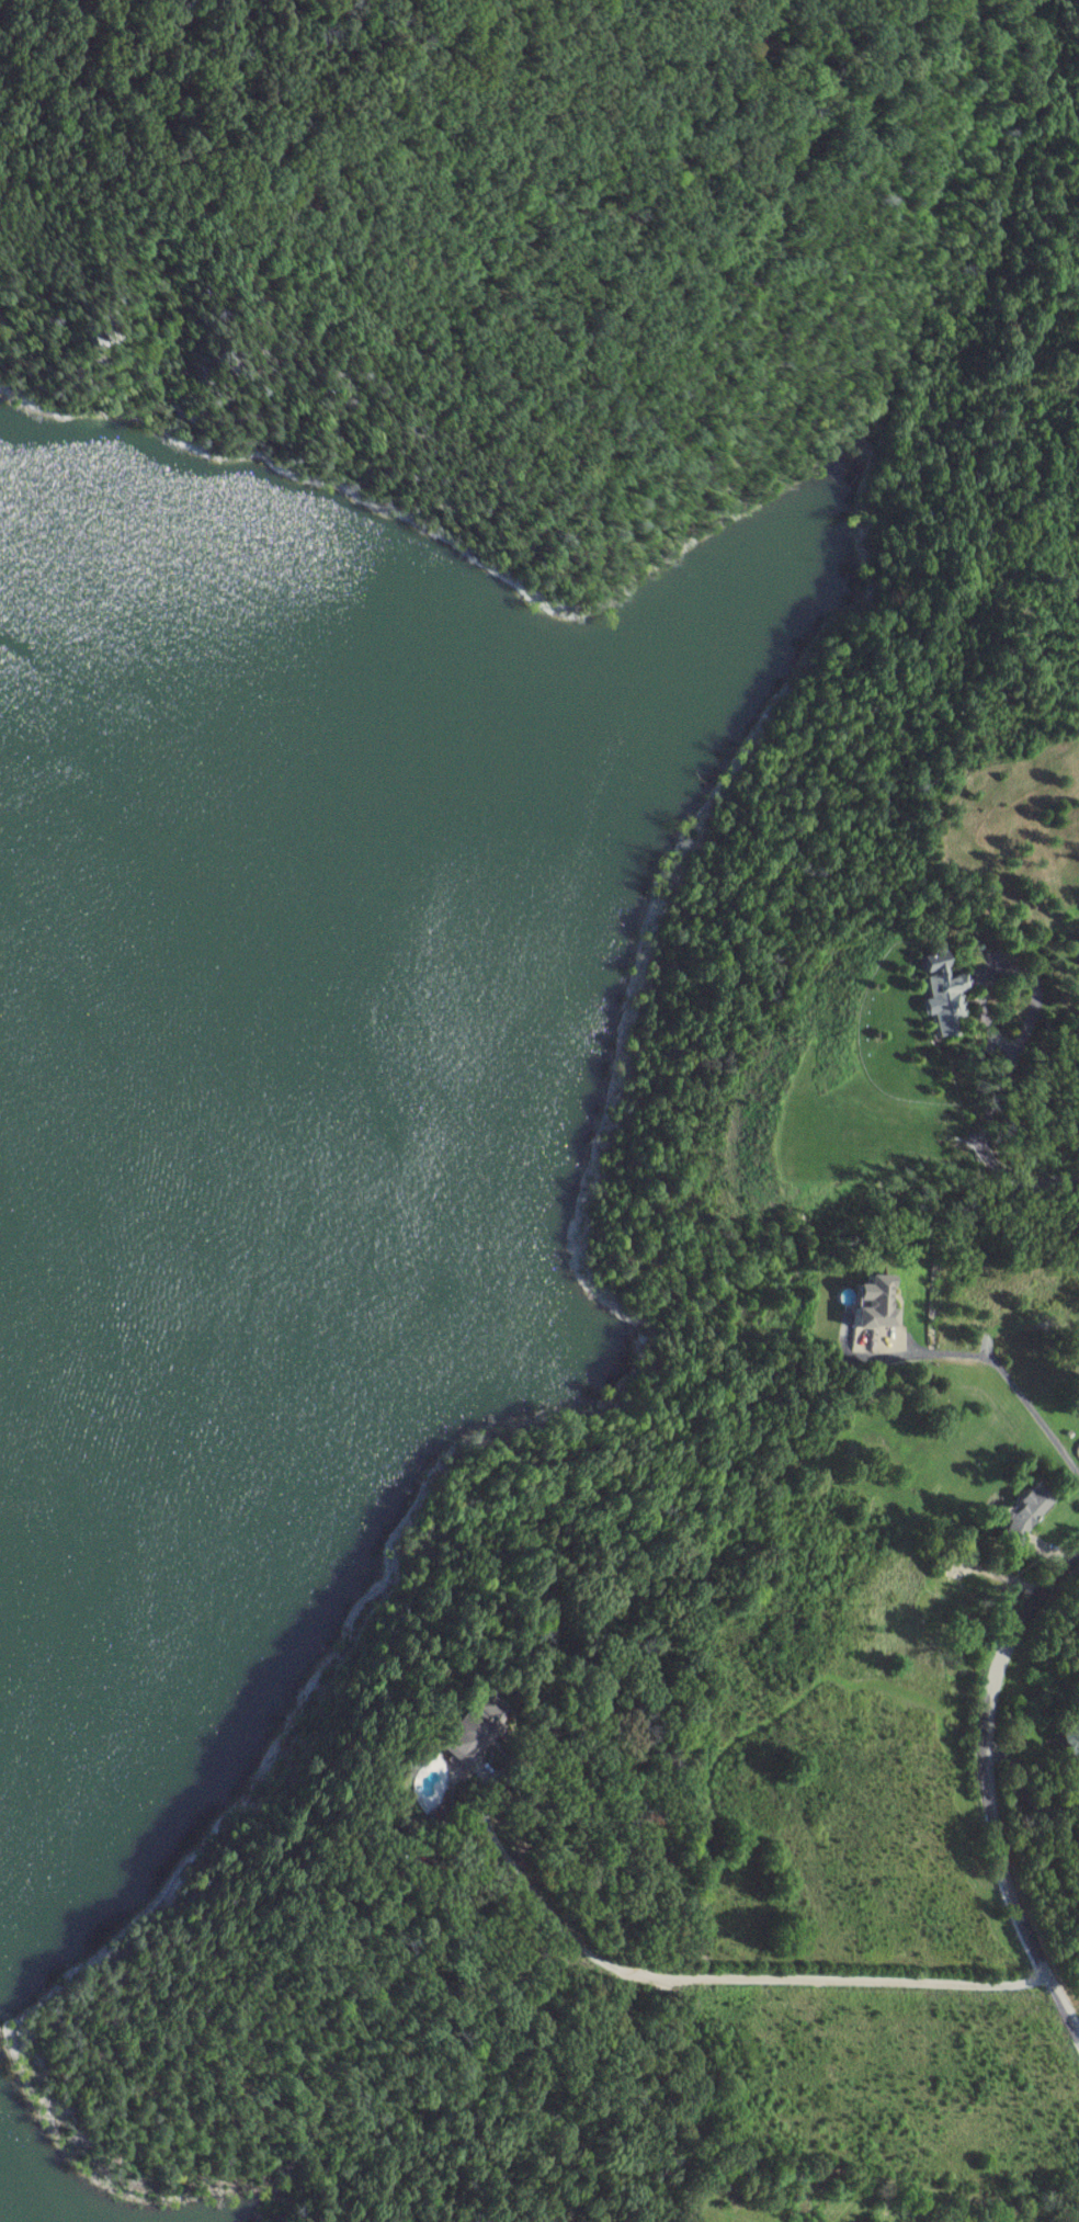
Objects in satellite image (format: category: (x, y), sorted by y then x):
building: (932, 990)
river: (156, 1059)
building: (864, 1302)
road: (999, 1371)
building: (1018, 1512)
building: (466, 1732)
building: (1065, 1743)
road: (990, 1789)
road: (508, 1857)
road: (850, 1985)

